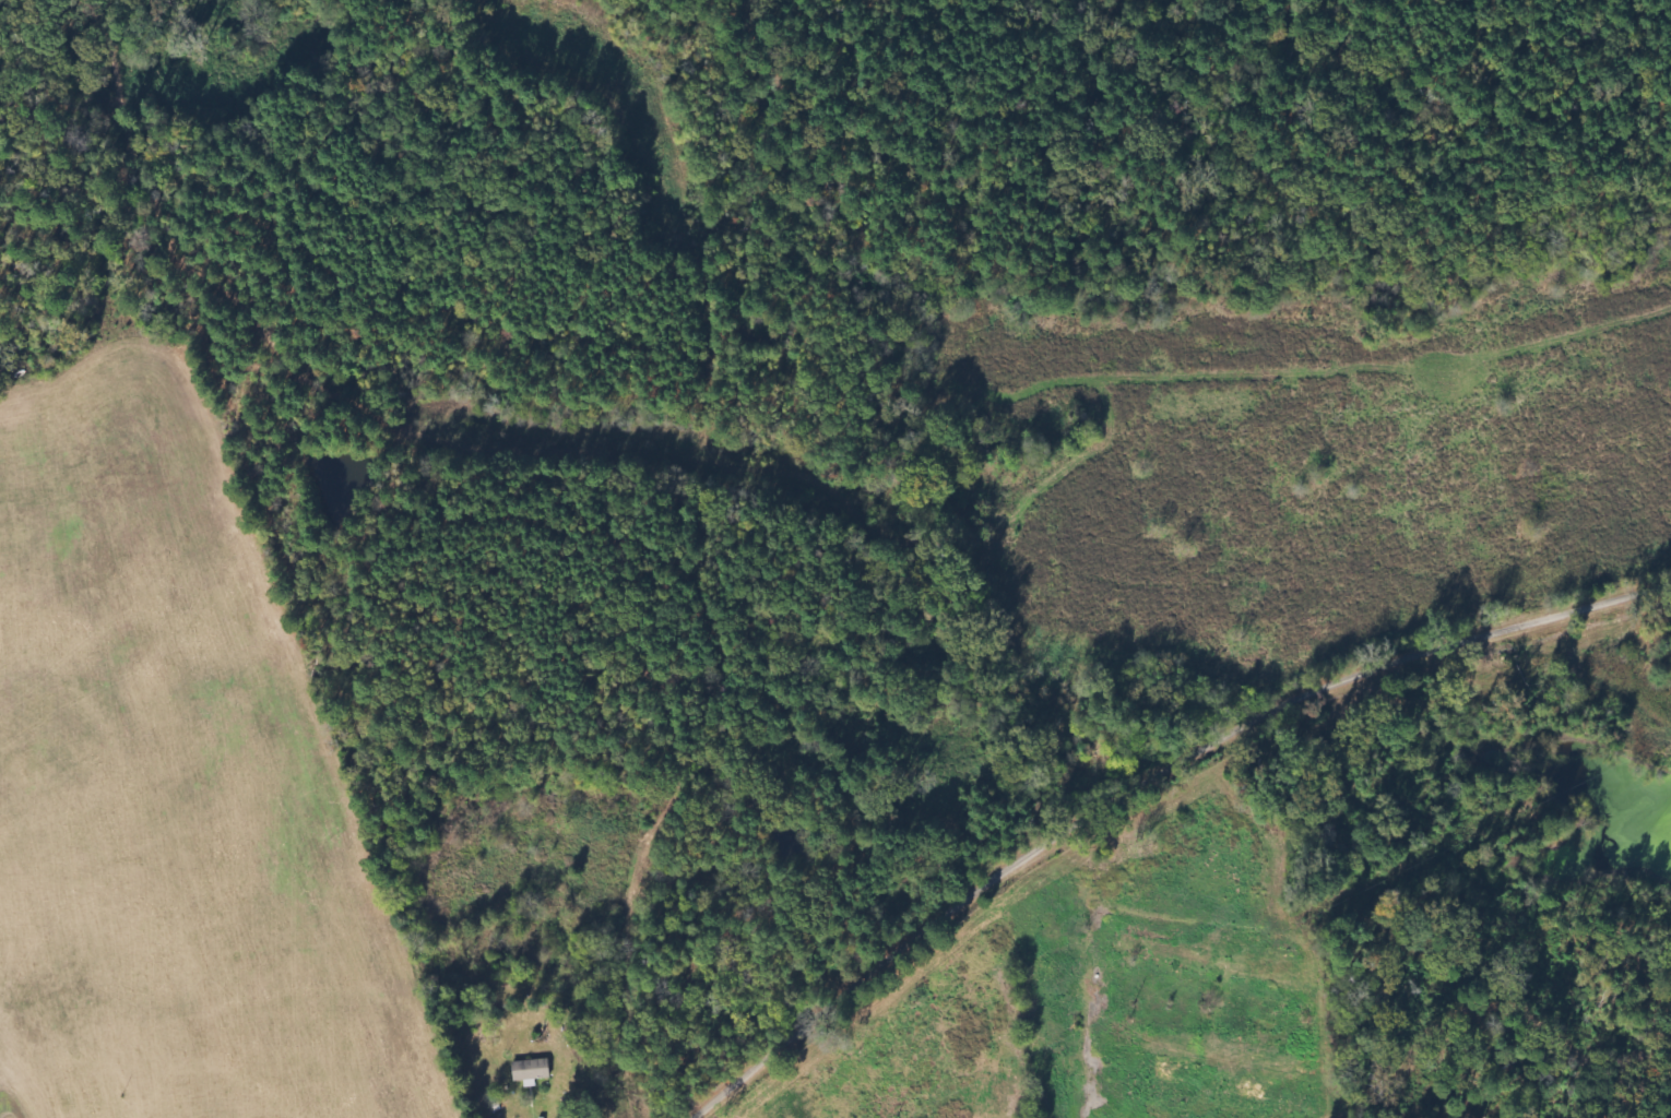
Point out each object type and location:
road: (1126, 777)
building: (529, 1069)

